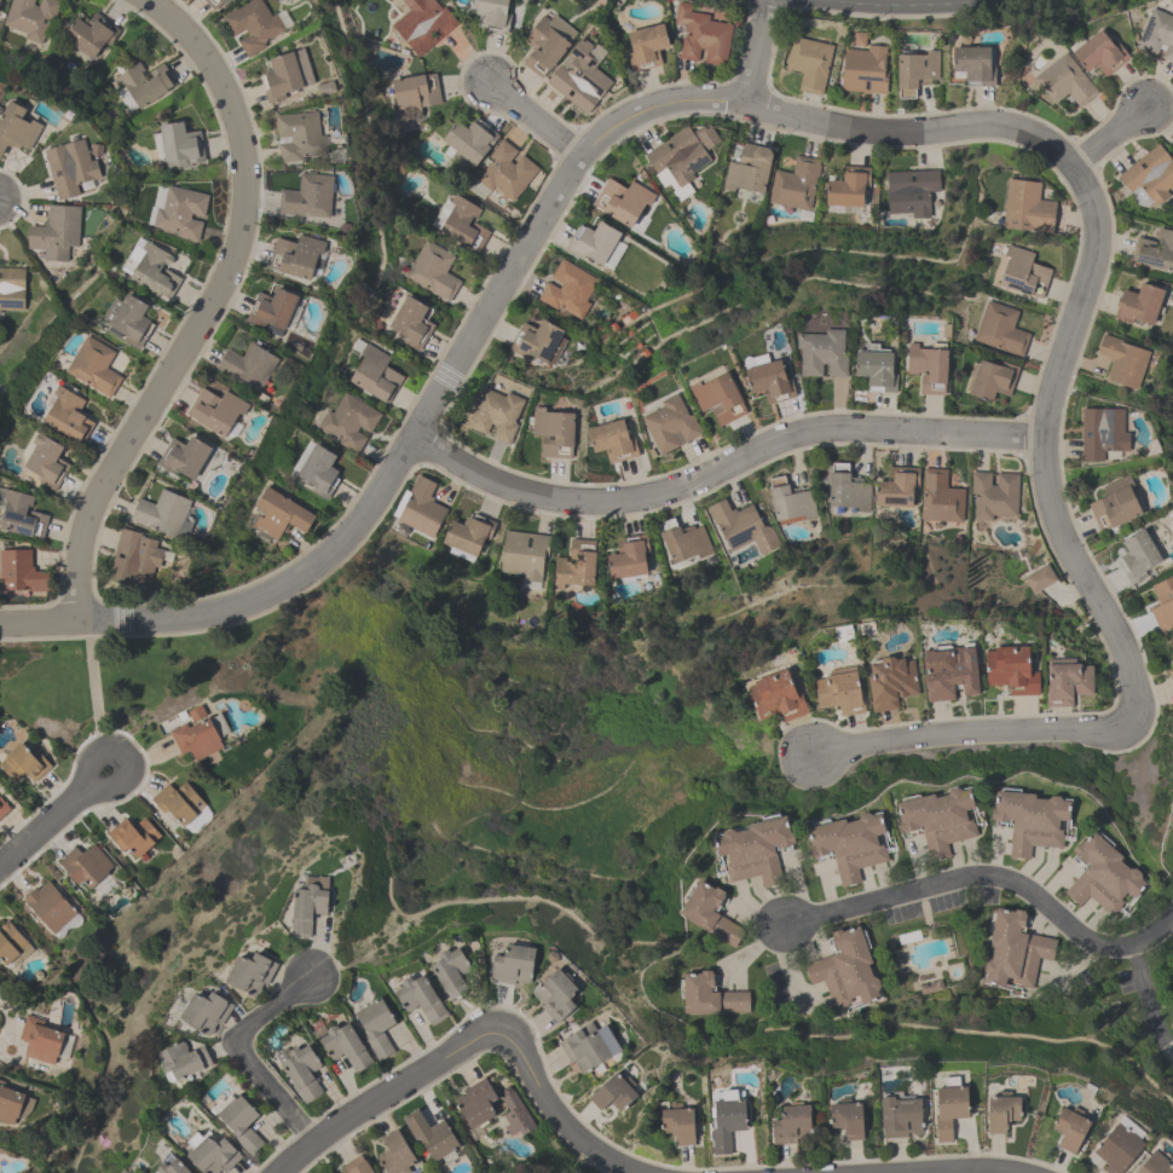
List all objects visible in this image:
building: (0, 2)
building: (213, 4)
building: (491, 15)
building: (30, 17)
building: (422, 24)
building: (254, 27)
building: (89, 34)
building: (1157, 35)
building: (703, 36)
building: (857, 40)
building: (547, 45)
building: (646, 47)
road: (755, 51)
building: (1098, 54)
building: (809, 64)
building: (972, 67)
building: (863, 70)
building: (915, 74)
building: (279, 77)
building: (579, 79)
building: (1063, 82)
building: (144, 83)
building: (414, 96)
road: (533, 117)
building: (16, 129)
building: (299, 137)
road: (1108, 138)
building: (469, 140)
building: (180, 146)
building: (682, 154)
building: (69, 168)
building: (749, 169)
building: (505, 172)
building: (1148, 177)
building: (794, 184)
building: (848, 187)
building: (909, 191)
building: (307, 198)
building: (622, 202)
road: (1091, 207)
building: (1027, 208)
building: (180, 212)
building: (460, 224)
building: (56, 232)
building: (593, 243)
building: (1155, 253)
building: (296, 258)
building: (433, 271)
building: (155, 272)
building: (1023, 273)
building: (11, 288)
building: (568, 289)
road: (208, 305)
building: (1137, 306)
building: (272, 312)
building: (127, 320)
building: (410, 323)
building: (1000, 330)
building: (538, 342)
building: (821, 354)
building: (1122, 362)
building: (248, 366)
building: (94, 368)
building: (928, 368)
building: (876, 370)
building: (375, 374)
building: (768, 381)
building: (992, 381)
building: (716, 397)
building: (215, 411)
building: (496, 415)
building: (68, 416)
building: (349, 422)
building: (670, 427)
building: (553, 433)
building: (1102, 433)
building: (612, 441)
building: (184, 458)
building: (44, 461)
building: (318, 470)
building: (896, 489)
building: (848, 490)
building: (994, 496)
building: (940, 497)
building: (788, 502)
building: (1115, 505)
building: (421, 508)
building: (163, 515)
building: (279, 515)
building: (21, 516)
building: (741, 527)
building: (468, 535)
building: (683, 541)
building: (524, 555)
building: (628, 557)
building: (1137, 557)
building: (134, 560)
building: (576, 566)
building: (19, 572)
road: (242, 602)
building: (1162, 602)
building: (1171, 643)
building: (1010, 674)
building: (949, 675)
building: (1171, 675)
road: (94, 682)
building: (1065, 683)
building: (890, 684)
building: (839, 694)
building: (775, 699)
road: (1119, 726)
building: (198, 734)
building: (23, 763)
road: (126, 781)
building: (178, 803)
building: (2, 808)
building: (936, 822)
building: (1029, 824)
road: (44, 825)
building: (133, 837)
building: (848, 846)
building: (755, 851)
building: (85, 866)
road: (992, 876)
building: (1102, 878)
building: (48, 907)
building: (308, 908)
building: (709, 914)
building: (11, 946)
building: (1013, 952)
building: (513, 961)
building: (250, 970)
building: (451, 970)
building: (845, 970)
building: (930, 986)
building: (555, 994)
building: (420, 995)
building: (709, 995)
road: (1145, 995)
building: (206, 1009)
road: (4, 1011)
building: (376, 1025)
building: (40, 1039)
road: (470, 1041)
building: (345, 1045)
building: (588, 1046)
road: (243, 1056)
building: (183, 1058)
building: (300, 1069)
building: (613, 1094)
building: (475, 1102)
building: (13, 1104)
building: (949, 1105)
building: (1001, 1110)
building: (514, 1114)
building: (900, 1114)
building: (846, 1116)
building: (238, 1120)
building: (726, 1122)
building: (792, 1123)
building: (677, 1125)
building: (1070, 1126)
building: (431, 1134)
building: (1117, 1146)
building: (210, 1152)
building: (395, 1154)
building: (1155, 1165)
building: (171, 1166)
building: (356, 1166)
road: (965, 1171)

